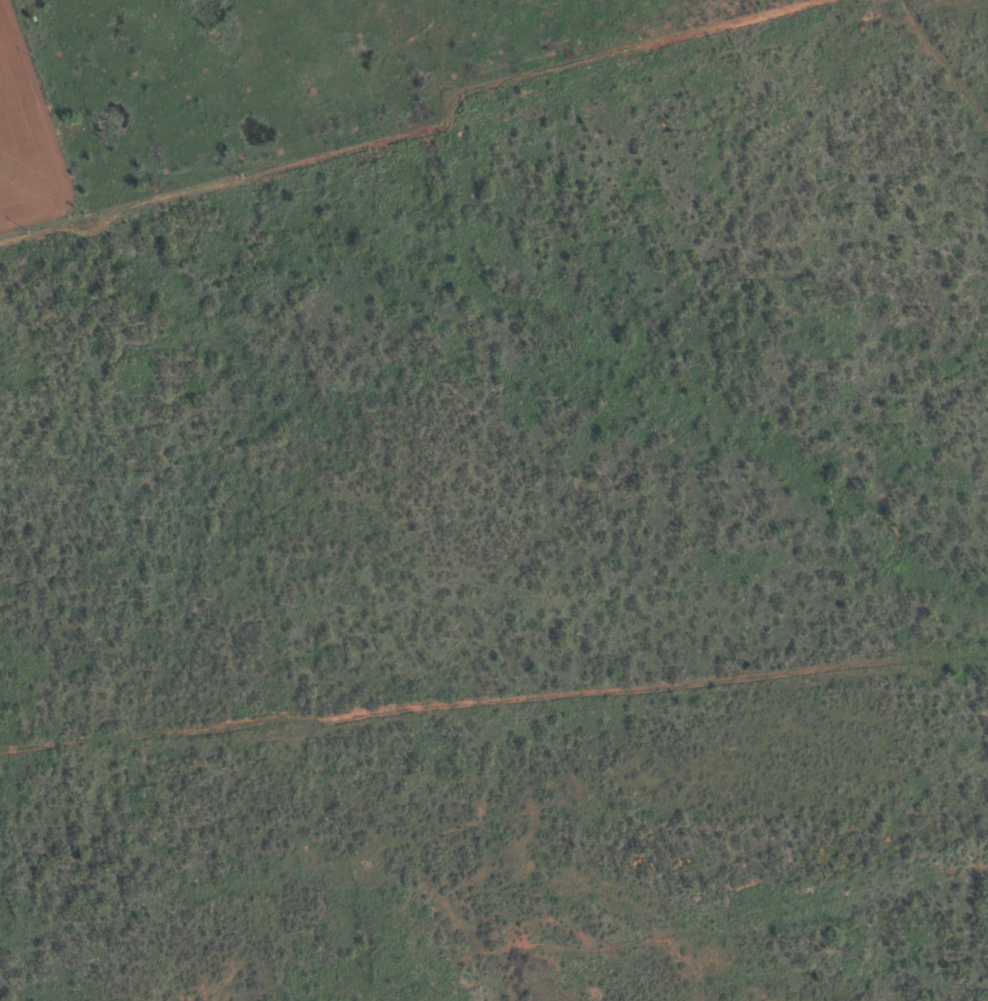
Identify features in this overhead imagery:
road: (954, 30)
road: (909, 44)
road: (493, 706)

